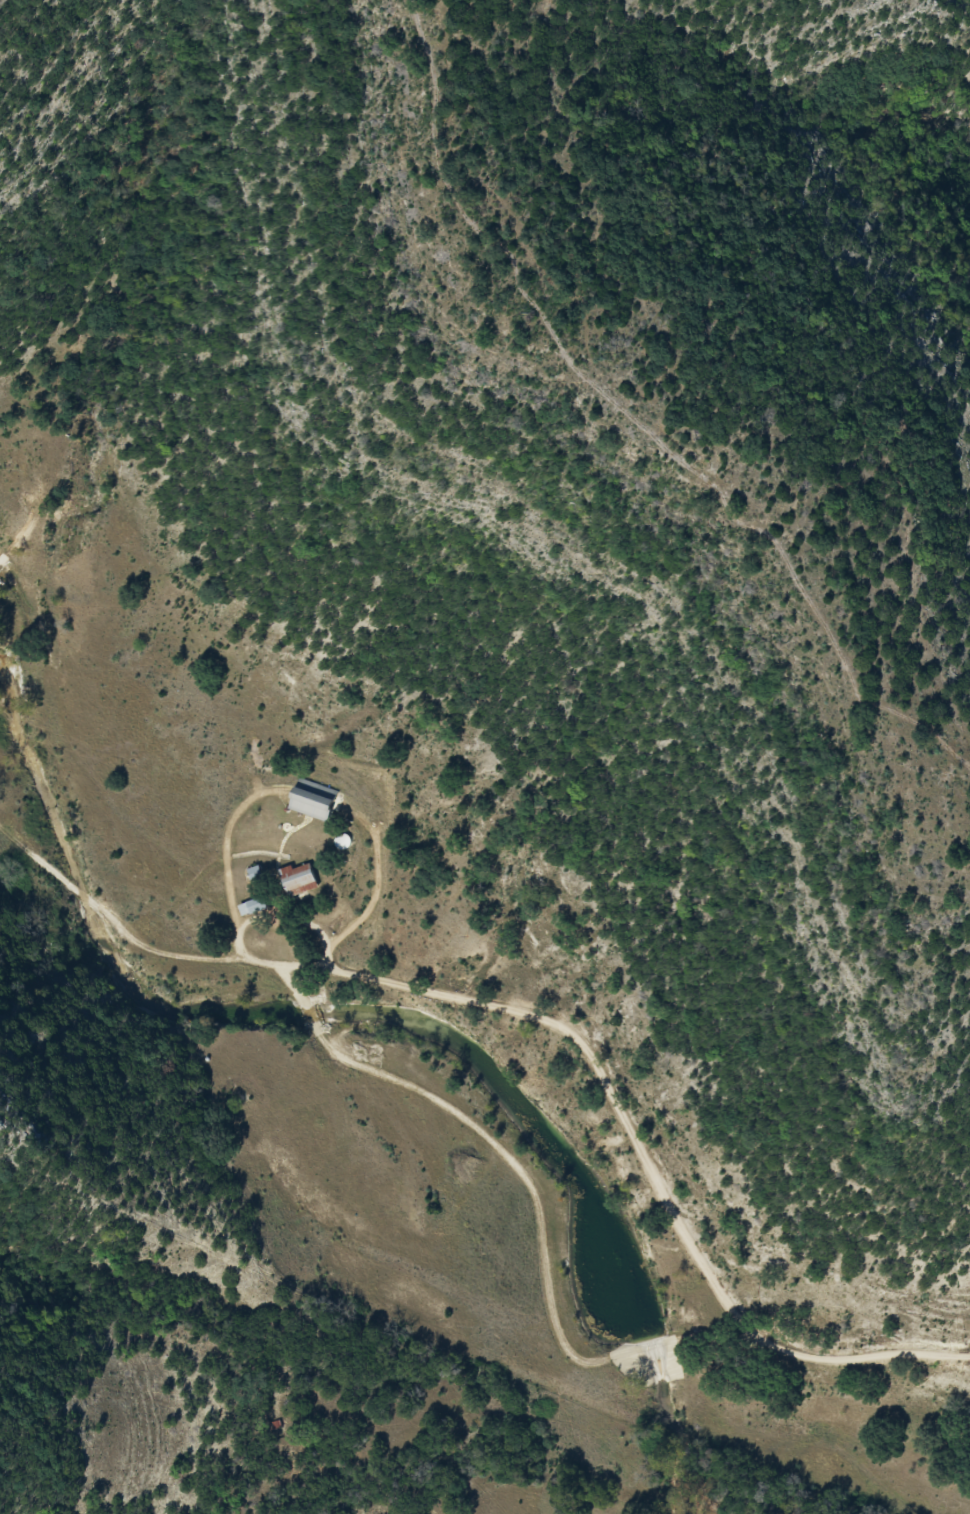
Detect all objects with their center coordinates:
building: (301, 881)
building: (258, 906)

